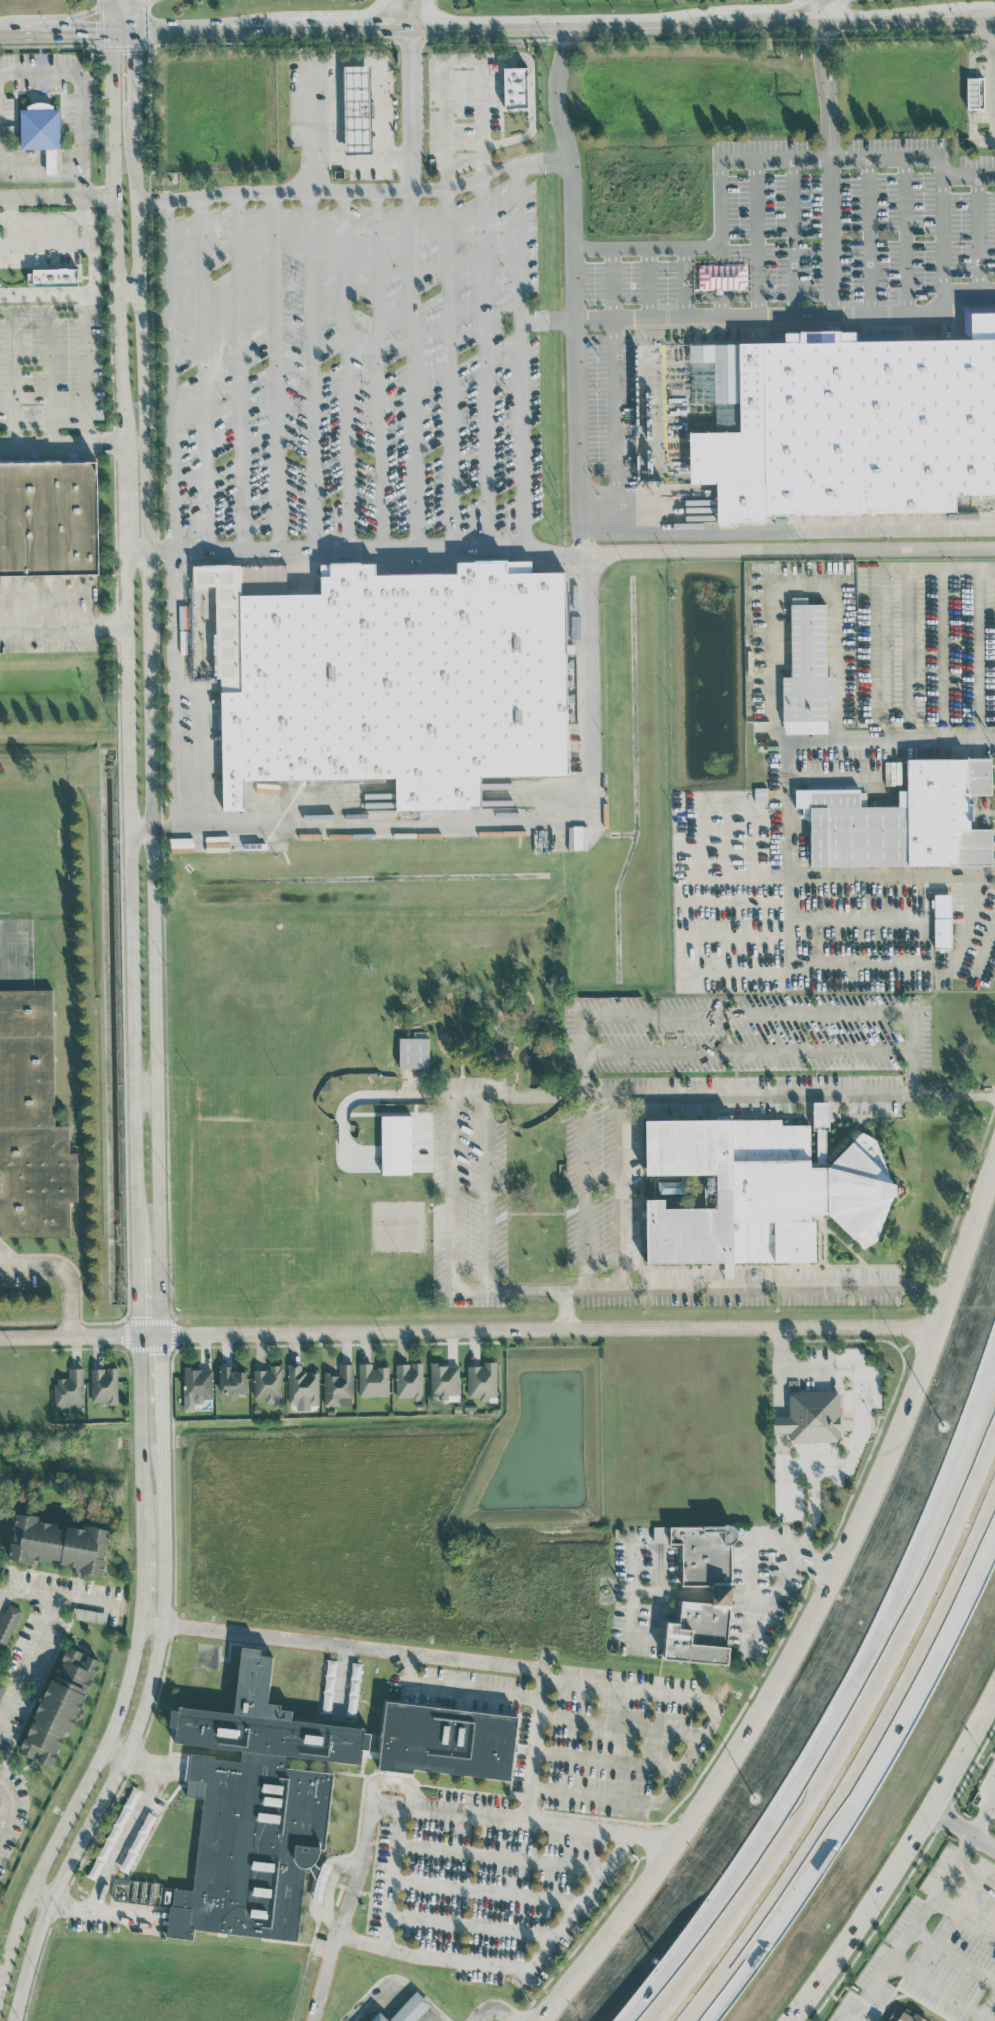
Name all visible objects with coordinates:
road: (737, 9)
road: (828, 9)
road: (123, 13)
road: (413, 15)
road: (136, 18)
road: (110, 19)
road: (63, 20)
road: (323, 20)
road: (890, 22)
road: (743, 26)
road: (537, 30)
road: (318, 33)
road: (199, 35)
road: (989, 35)
road: (123, 37)
road: (55, 38)
traffic signals: (95, 38)
traffic signals: (136, 52)
road: (358, 56)
road: (455, 60)
building: (515, 87)
road: (81, 92)
building: (975, 92)
road: (828, 93)
building: (357, 108)
road: (309, 127)
building: (41, 131)
road: (464, 160)
road: (360, 161)
road: (788, 162)
road: (42, 174)
parking lot: (378, 175)
road: (357, 193)
road: (57, 195)
road: (91, 217)
road: (5, 218)
road: (40, 220)
road: (871, 238)
road: (795, 239)
road: (834, 239)
road: (47, 242)
parking lot: (815, 242)
road: (944, 243)
road: (648, 249)
building: (54, 277)
road: (130, 287)
road: (413, 289)
road: (70, 293)
road: (762, 317)
road: (487, 360)
road: (87, 367)
road: (452, 367)
road: (312, 370)
road: (377, 370)
road: (277, 371)
road: (348, 371)
road: (241, 372)
road: (201, 373)
road: (50, 374)
road: (169, 375)
road: (13, 376)
road: (616, 430)
building: (841, 441)
road: (62, 442)
road: (579, 492)
building: (48, 518)
road: (517, 546)
road: (556, 552)
road: (791, 565)
road: (64, 621)
road: (908, 658)
road: (979, 658)
road: (941, 659)
building: (392, 679)
building: (805, 681)
road: (171, 689)
road: (844, 734)
building: (759, 795)
road: (491, 819)
road: (142, 828)
building: (902, 835)
road: (788, 902)
building: (942, 920)
road: (986, 943)
road: (884, 1015)
road: (132, 1025)
road: (156, 1042)
building: (413, 1052)
road: (912, 1070)
road: (145, 1087)
road: (368, 1096)
road: (721, 1098)
building: (30, 1118)
building: (395, 1144)
road: (484, 1195)
road: (586, 1196)
road: (626, 1196)
road: (452, 1200)
building: (754, 1205)
road: (69, 1261)
road: (66, 1270)
road: (703, 1292)
road: (565, 1312)
road: (468, 1330)
building: (232, 1380)
building: (372, 1380)
building: (409, 1380)
building: (444, 1381)
building: (482, 1381)
building: (104, 1385)
building: (268, 1385)
building: (302, 1385)
building: (196, 1386)
building: (338, 1386)
building: (69, 1388)
building: (810, 1416)
road: (838, 1463)
road: (961, 1464)
building: (58, 1544)
road: (751, 1547)
road: (967, 1548)
road: (818, 1554)
road: (967, 1560)
road: (809, 1569)
road: (672, 1592)
building: (721, 1593)
road: (4, 1595)
road: (722, 1595)
road: (752, 1595)
road: (67, 1597)
building: (89, 1615)
road: (813, 1619)
building: (8, 1623)
road: (343, 1645)
road: (29, 1658)
road: (341, 1685)
building: (1, 1687)
road: (458, 1689)
building: (59, 1706)
road: (621, 1726)
road: (843, 1728)
road: (536, 1735)
road: (700, 1739)
building: (448, 1741)
road: (143, 1758)
road: (607, 1761)
building: (255, 1809)
road: (414, 1809)
road: (991, 1809)
road: (6, 1810)
road: (817, 1823)
road: (965, 1832)
road: (125, 1836)
road: (499, 1857)
road: (975, 1868)
road: (902, 1869)
road: (394, 1879)
road: (327, 1886)
road: (485, 1892)
building: (146, 1894)
road: (921, 1907)
road: (570, 1908)
road: (93, 1910)
road: (963, 1912)
road: (470, 1926)
road: (952, 1954)
road: (428, 1958)
road: (941, 1987)
building: (406, 2009)
road: (987, 2009)
road: (492, 2010)
building: (903, 2015)
building: (876, 2020)
building: (879, 2020)

